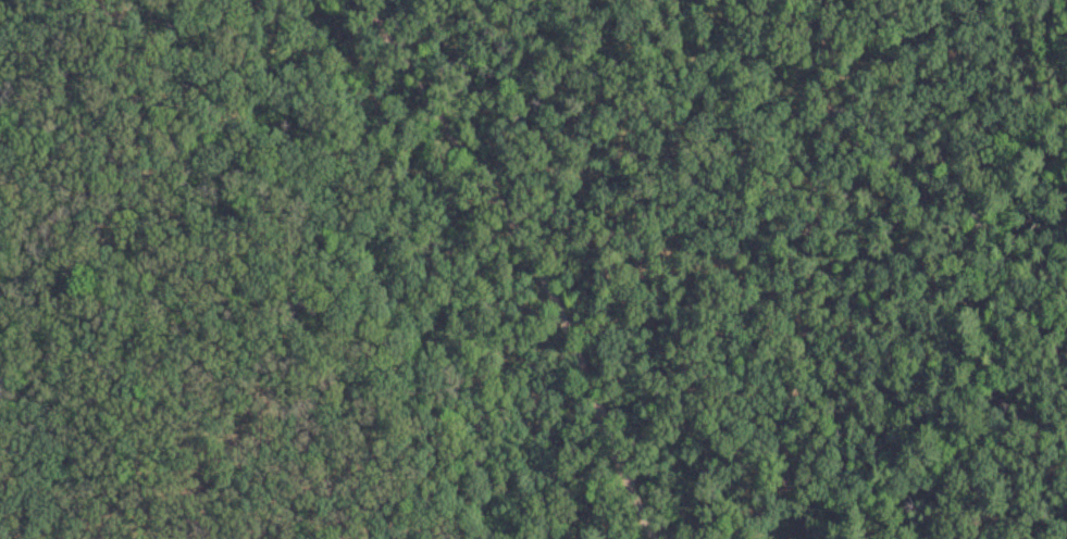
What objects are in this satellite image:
road: (1025, 43)
road: (801, 221)
road: (535, 258)
road: (721, 487)
road: (785, 497)

